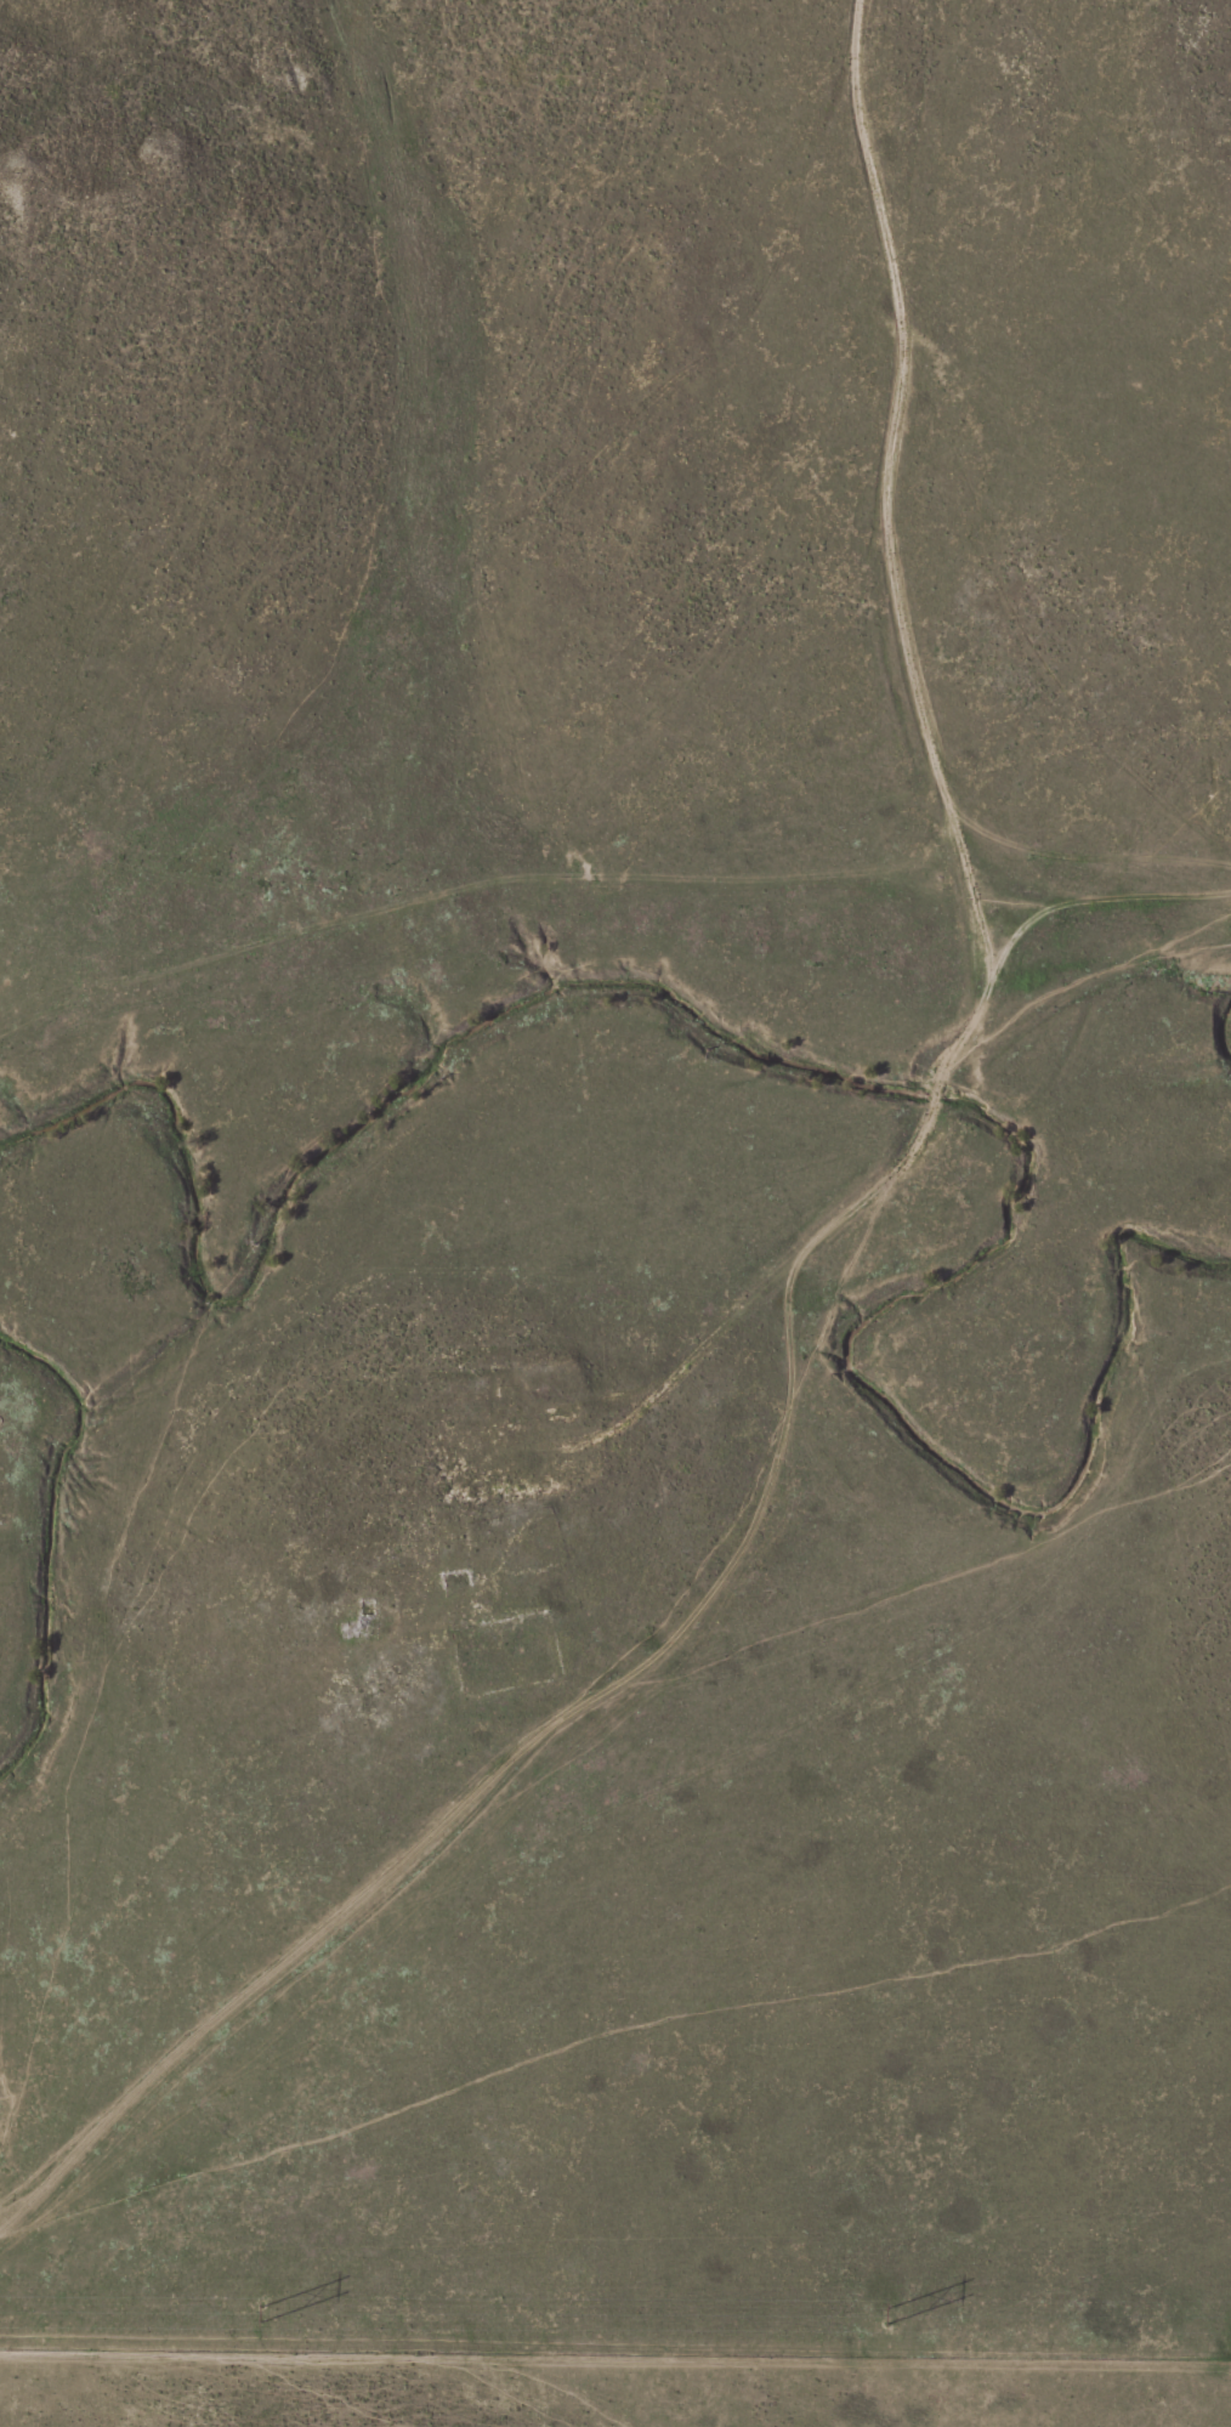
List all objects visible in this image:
power tower: (261, 2313)
power tower: (885, 2317)

